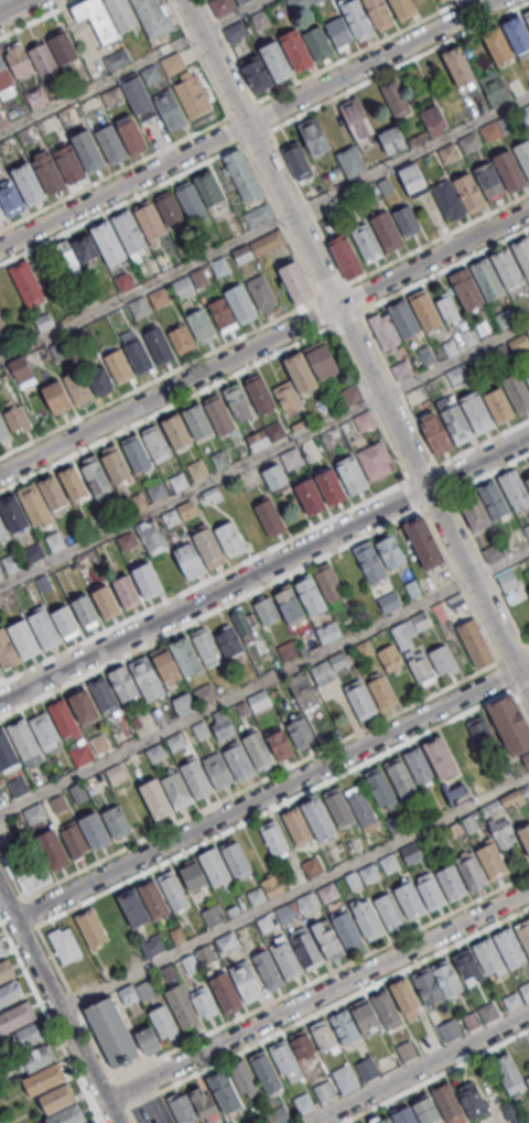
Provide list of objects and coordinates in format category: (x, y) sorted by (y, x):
building: (442, 0)
building: (300, 3)
road: (11, 6)
building: (222, 7)
building: (406, 9)
building: (121, 14)
building: (379, 14)
building: (152, 17)
road: (40, 19)
building: (96, 20)
building: (260, 20)
building: (348, 25)
building: (236, 31)
building: (519, 33)
building: (299, 47)
building: (63, 50)
road: (229, 51)
road: (198, 57)
building: (277, 57)
road: (343, 57)
building: (42, 60)
building: (117, 60)
building: (18, 62)
building: (173, 64)
road: (132, 66)
building: (458, 66)
building: (256, 74)
building: (151, 75)
building: (6, 82)
building: (495, 88)
building: (193, 95)
building: (112, 97)
building: (140, 97)
building: (395, 99)
road: (322, 104)
building: (91, 107)
building: (172, 109)
building: (525, 114)
building: (358, 120)
building: (434, 120)
road: (247, 123)
building: (131, 134)
building: (314, 134)
building: (397, 140)
building: (112, 142)
building: (469, 142)
building: (89, 149)
building: (449, 153)
building: (350, 161)
building: (298, 162)
road: (198, 163)
road: (127, 165)
building: (511, 169)
building: (51, 171)
building: (241, 174)
building: (413, 179)
building: (30, 182)
building: (209, 187)
building: (471, 192)
building: (10, 197)
building: (450, 199)
building: (191, 202)
building: (170, 209)
building: (2, 213)
building: (258, 215)
building: (407, 220)
building: (150, 222)
road: (263, 226)
building: (388, 230)
building: (119, 237)
building: (366, 241)
road: (423, 245)
building: (86, 248)
building: (522, 251)
building: (345, 256)
building: (66, 258)
building: (508, 266)
building: (220, 267)
building: (489, 278)
building: (294, 281)
building: (26, 283)
building: (467, 288)
building: (263, 293)
road: (366, 307)
building: (231, 309)
building: (427, 310)
building: (449, 310)
building: (406, 318)
building: (2, 325)
building: (201, 325)
building: (387, 331)
building: (182, 338)
building: (467, 338)
road: (264, 343)
road: (357, 344)
building: (161, 346)
building: (427, 355)
building: (140, 356)
building: (323, 360)
building: (120, 366)
building: (21, 369)
building: (401, 369)
road: (173, 371)
road: (242, 371)
building: (302, 371)
building: (528, 374)
building: (456, 375)
building: (99, 379)
building: (79, 387)
building: (262, 395)
building: (352, 395)
building: (415, 396)
building: (58, 397)
building: (287, 397)
building: (239, 401)
building: (498, 406)
building: (222, 415)
building: (465, 417)
building: (18, 419)
building: (199, 420)
building: (4, 429)
building: (179, 431)
building: (435, 432)
building: (155, 443)
road: (469, 451)
building: (138, 454)
road: (263, 454)
building: (292, 458)
building: (376, 461)
building: (117, 464)
building: (352, 475)
building: (95, 476)
building: (274, 477)
building: (527, 479)
building: (75, 482)
building: (331, 486)
building: (514, 489)
building: (55, 493)
building: (310, 496)
building: (36, 504)
building: (483, 505)
building: (17, 514)
building: (269, 517)
building: (2, 531)
road: (469, 532)
building: (152, 537)
building: (231, 539)
building: (127, 541)
building: (423, 542)
building: (212, 550)
building: (390, 551)
building: (493, 552)
building: (192, 560)
building: (371, 562)
road: (264, 571)
road: (289, 574)
road: (218, 575)
building: (148, 580)
building: (509, 580)
building: (331, 584)
building: (128, 590)
building: (528, 592)
building: (312, 594)
building: (108, 601)
building: (389, 601)
building: (291, 604)
building: (87, 611)
building: (266, 611)
building: (67, 622)
building: (246, 624)
building: (47, 628)
building: (328, 633)
building: (26, 638)
building: (228, 641)
building: (475, 643)
building: (206, 647)
road: (528, 648)
building: (365, 649)
building: (287, 651)
building: (186, 654)
building: (390, 658)
building: (443, 660)
building: (166, 663)
building: (420, 667)
building: (0, 669)
building: (322, 672)
building: (147, 676)
building: (125, 682)
road: (263, 683)
building: (381, 690)
building: (105, 693)
building: (304, 694)
building: (359, 699)
building: (85, 705)
building: (65, 719)
building: (509, 724)
building: (46, 731)
building: (301, 733)
building: (26, 742)
building: (485, 745)
building: (280, 746)
building: (259, 751)
building: (8, 753)
building: (442, 757)
building: (240, 762)
building: (420, 765)
building: (219, 770)
building: (401, 775)
building: (197, 780)
road: (260, 781)
building: (382, 788)
road: (272, 791)
building: (464, 791)
building: (158, 798)
building: (361, 805)
building: (338, 807)
building: (33, 814)
building: (320, 819)
building: (118, 821)
building: (299, 827)
building: (96, 830)
building: (503, 833)
building: (525, 836)
road: (215, 838)
building: (276, 838)
building: (73, 840)
building: (55, 850)
building: (411, 853)
building: (237, 860)
building: (494, 862)
building: (390, 864)
building: (314, 866)
building: (216, 867)
building: (25, 870)
road: (12, 874)
building: (192, 874)
building: (370, 874)
building: (474, 874)
building: (452, 883)
building: (271, 886)
building: (174, 890)
building: (432, 892)
road: (293, 893)
building: (156, 899)
building: (411, 900)
building: (307, 903)
building: (134, 907)
building: (390, 911)
building: (215, 916)
building: (367, 919)
building: (93, 928)
building: (523, 933)
building: (337, 935)
building: (226, 942)
building: (66, 944)
building: (152, 946)
building: (511, 948)
building: (2, 950)
building: (309, 951)
building: (205, 954)
building: (489, 957)
building: (288, 961)
building: (469, 968)
building: (269, 970)
building: (7, 971)
building: (449, 978)
building: (247, 982)
road: (306, 983)
building: (526, 991)
building: (10, 993)
building: (228, 993)
road: (316, 996)
building: (514, 1002)
road: (55, 1005)
building: (185, 1007)
road: (319, 1012)
building: (490, 1013)
building: (15, 1016)
building: (367, 1016)
building: (471, 1021)
road: (50, 1022)
building: (163, 1022)
building: (346, 1028)
building: (452, 1030)
building: (112, 1032)
building: (29, 1035)
building: (323, 1036)
building: (148, 1039)
building: (408, 1051)
building: (37, 1057)
building: (288, 1061)
road: (420, 1068)
building: (368, 1069)
building: (267, 1071)
building: (510, 1073)
road: (434, 1076)
building: (244, 1078)
building: (44, 1079)
building: (346, 1079)
building: (528, 1080)
building: (225, 1089)
building: (326, 1090)
building: (446, 1100)
building: (473, 1100)
building: (192, 1105)
building: (62, 1106)
building: (425, 1109)
building: (406, 1115)
building: (381, 1120)
building: (93, 1122)
building: (364, 1122)

